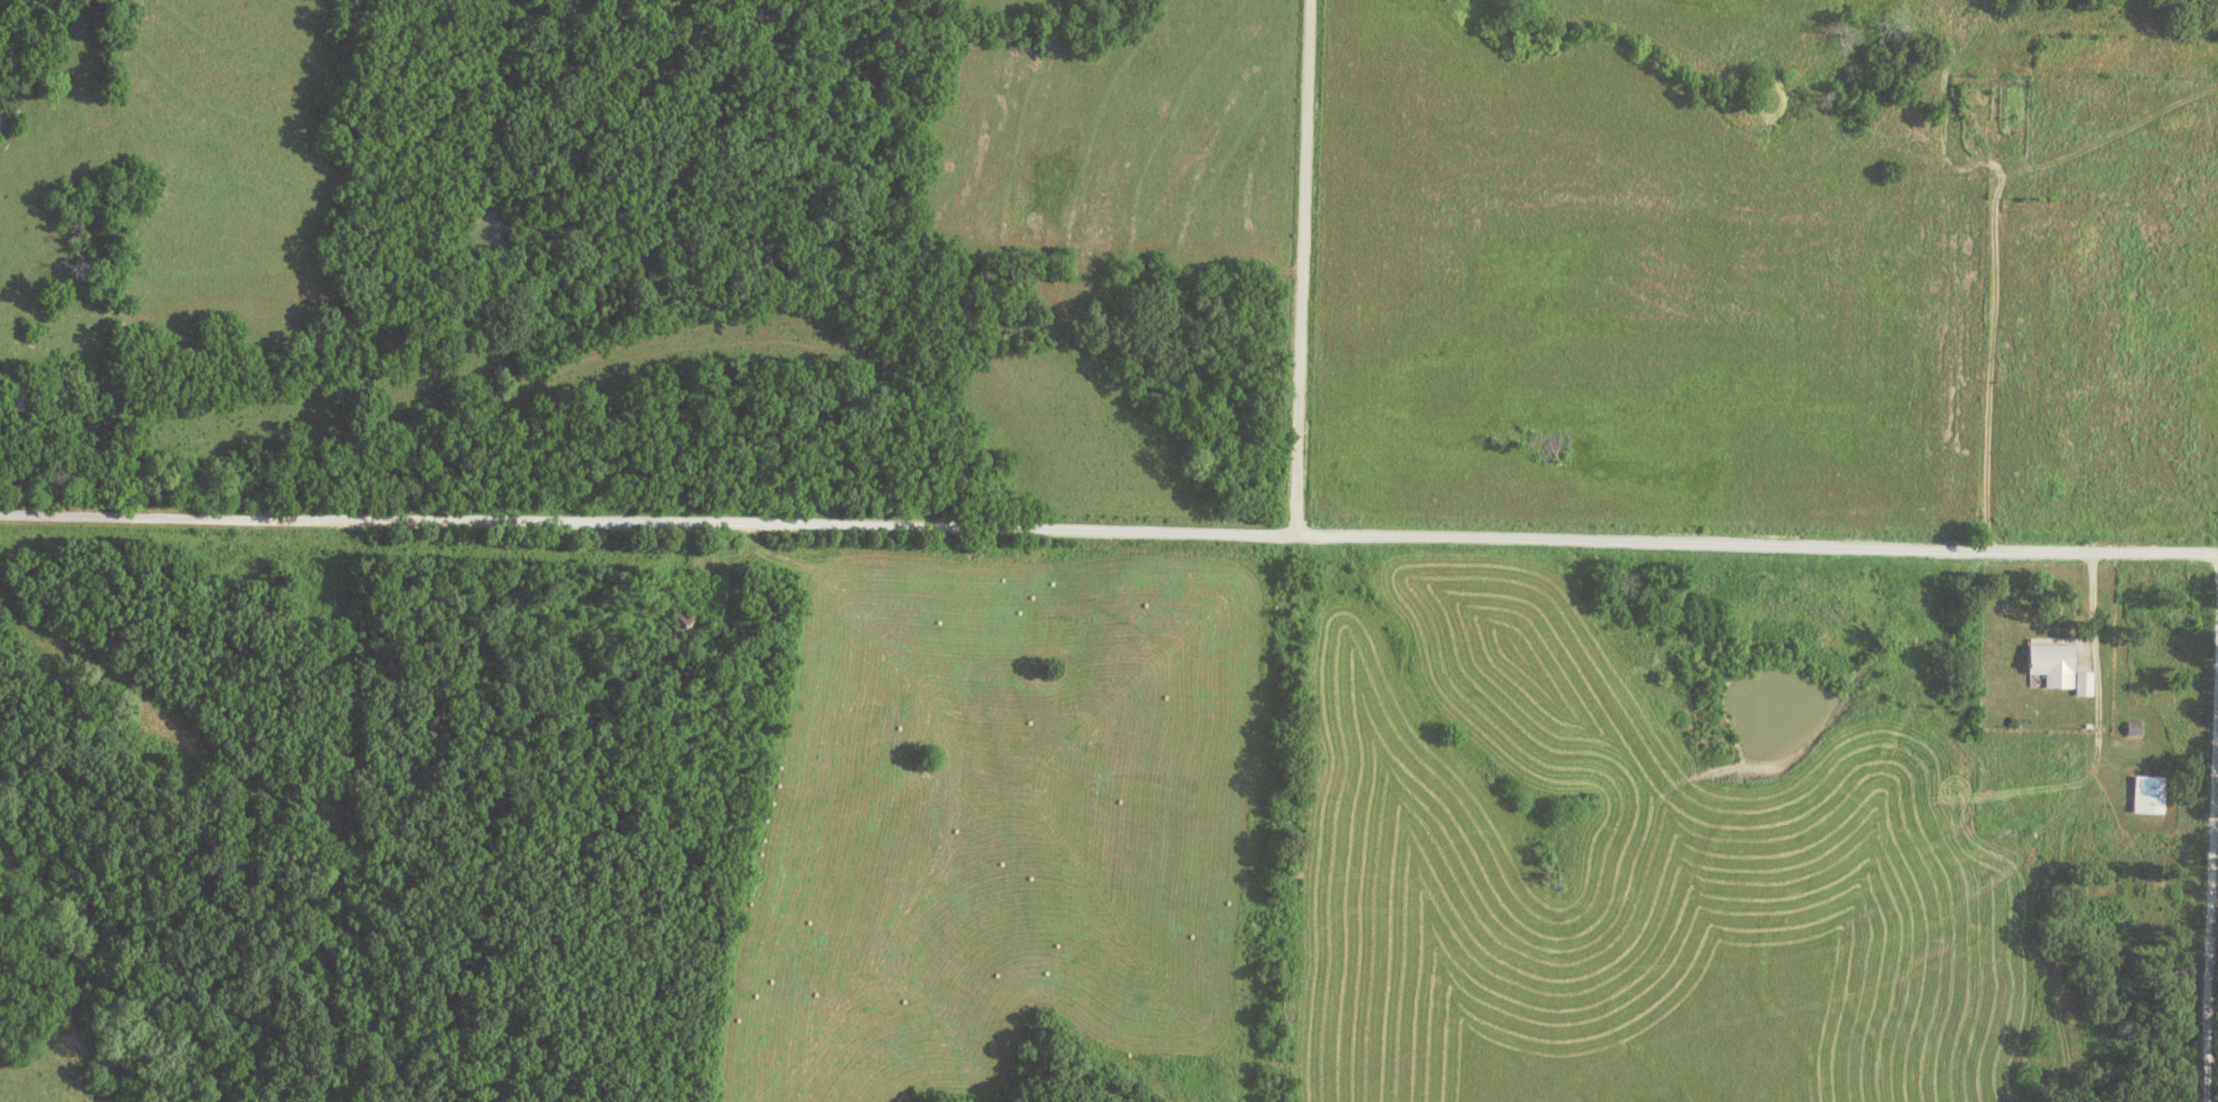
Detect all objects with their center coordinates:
road: (2033, 68)
road: (1301, 267)
road: (1989, 269)
building: (16, 391)
road: (1109, 527)
building: (2058, 667)
building: (2132, 727)
building: (2147, 793)
road: (2209, 827)

